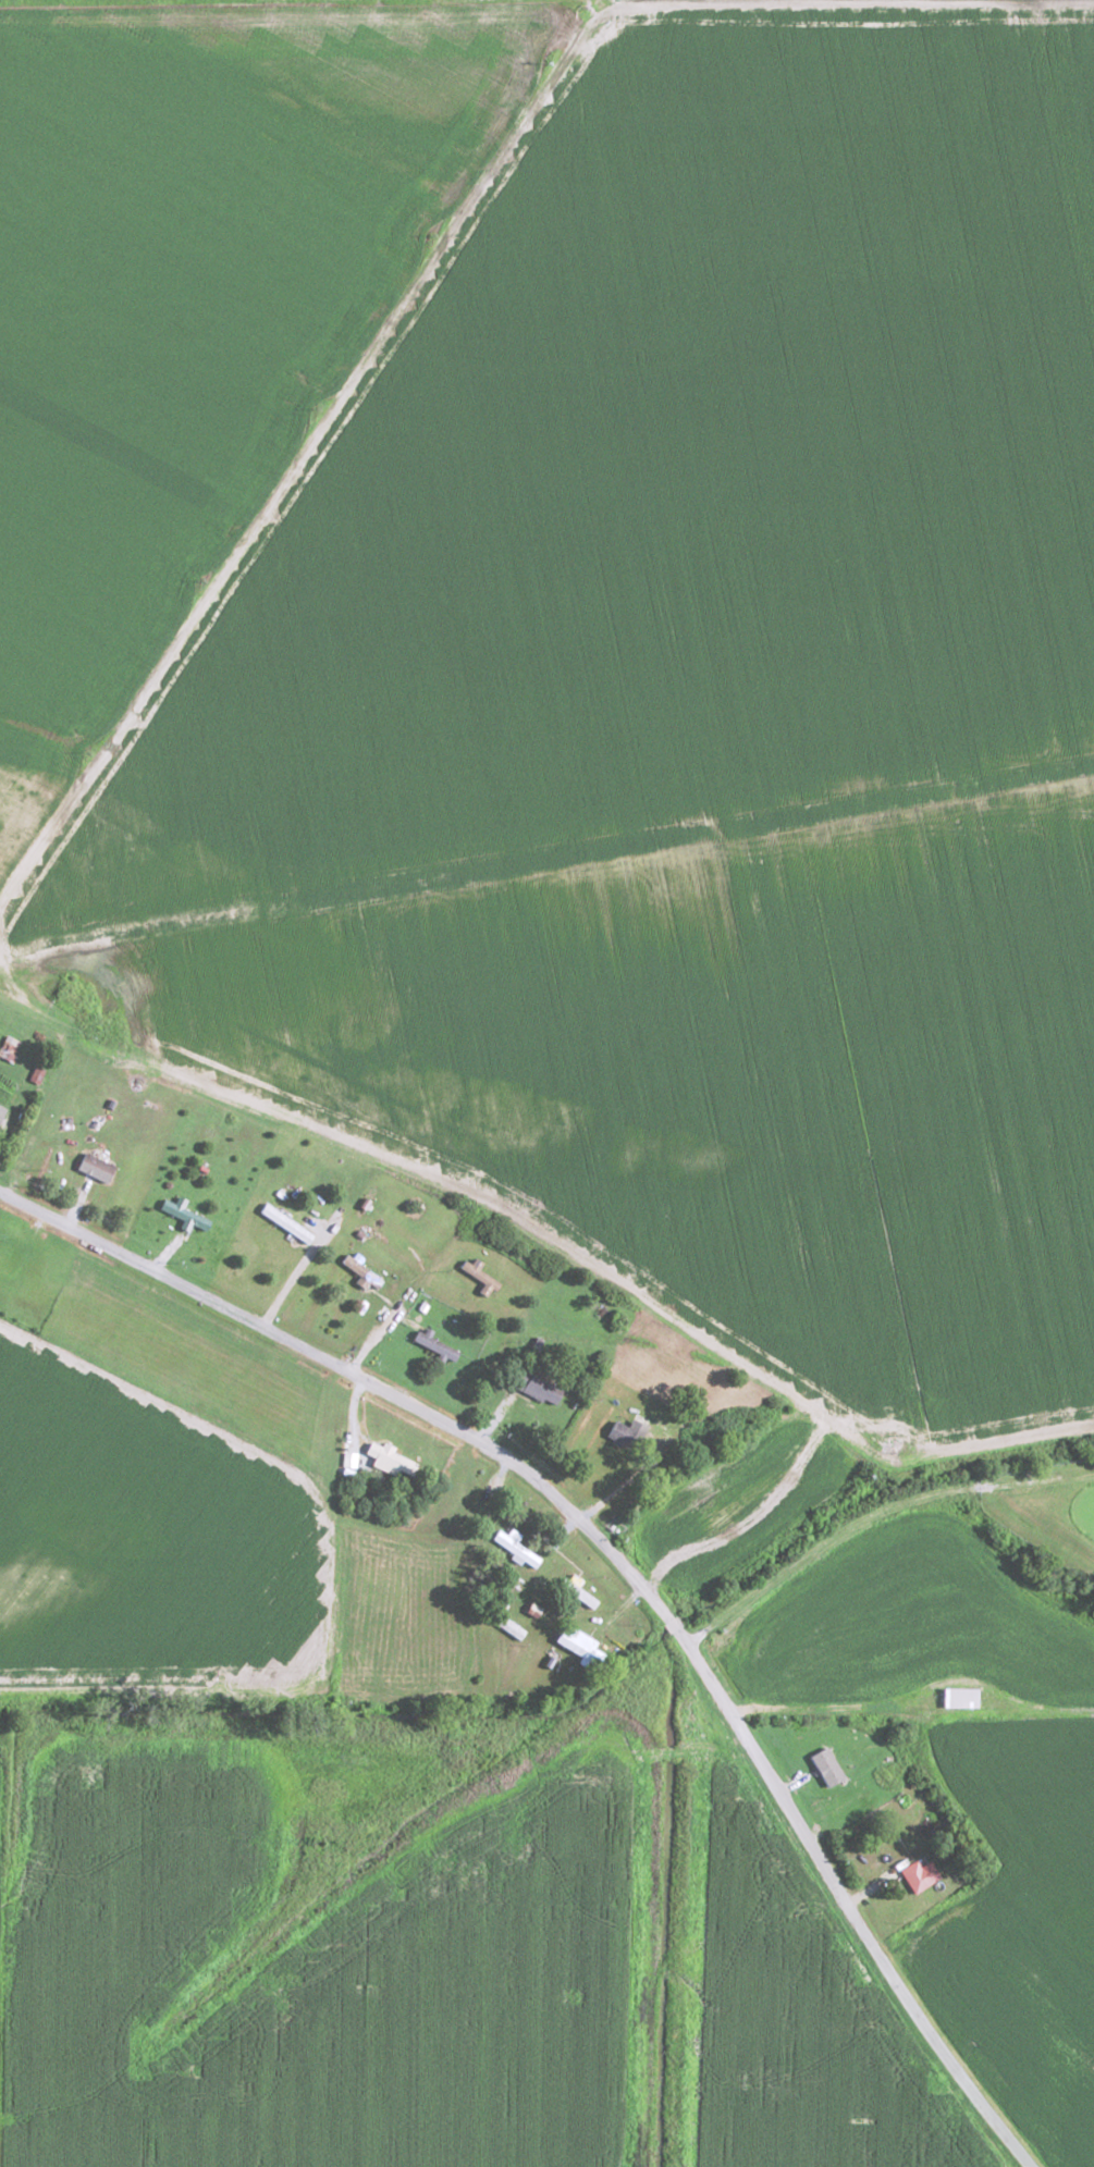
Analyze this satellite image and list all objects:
road: (288, 8)
building: (2, 1111)
building: (98, 1167)
building: (294, 1227)
building: (438, 1345)
road: (362, 1382)
building: (539, 1387)
building: (627, 1433)
building: (392, 1458)
building: (352, 1460)
building: (518, 1548)
road: (685, 1645)
road: (169, 1695)
building: (962, 1697)
road: (869, 1700)
building: (828, 1765)
building: (922, 1874)
road: (850, 1917)

